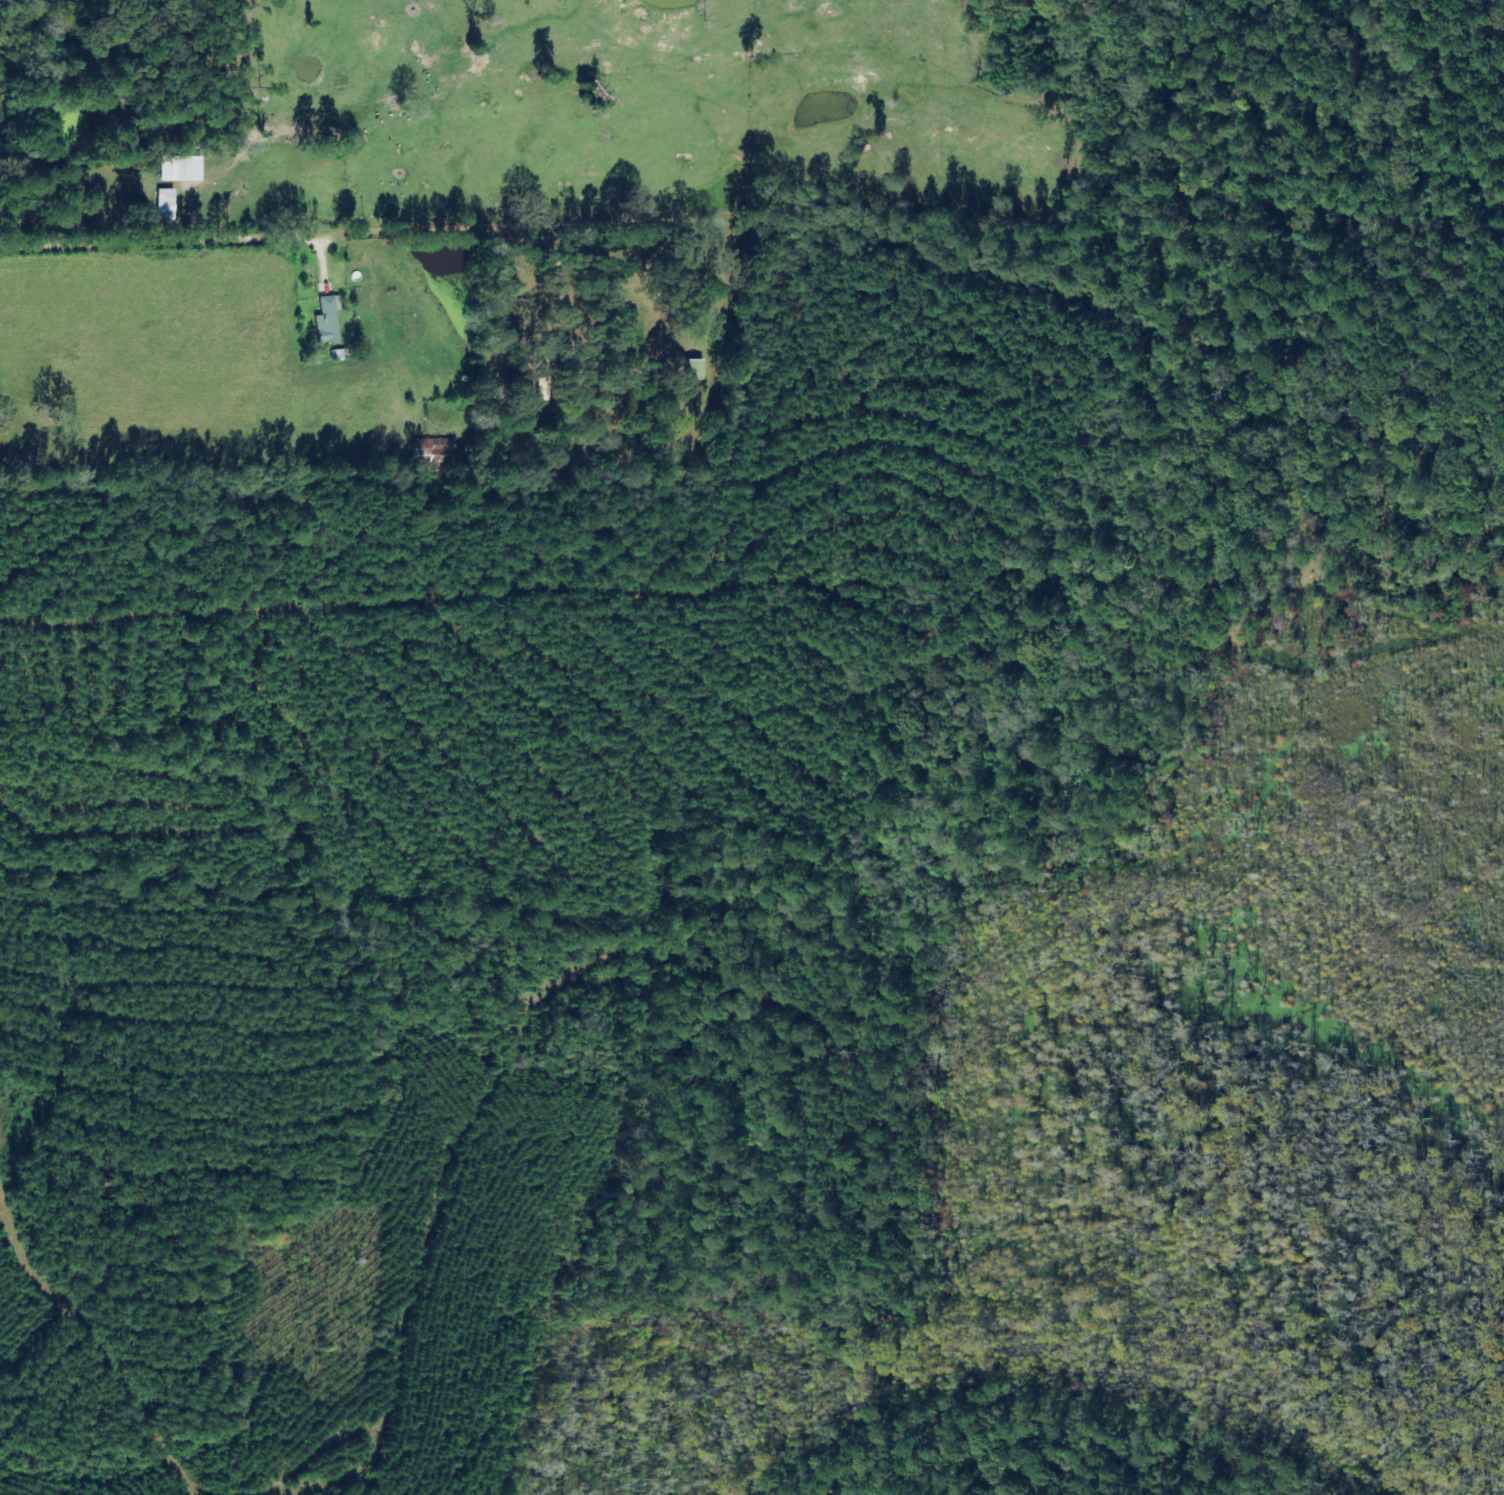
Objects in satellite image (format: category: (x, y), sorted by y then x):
building: (185, 168)
building: (171, 202)
building: (330, 321)
building: (698, 373)
road: (107, 1337)

